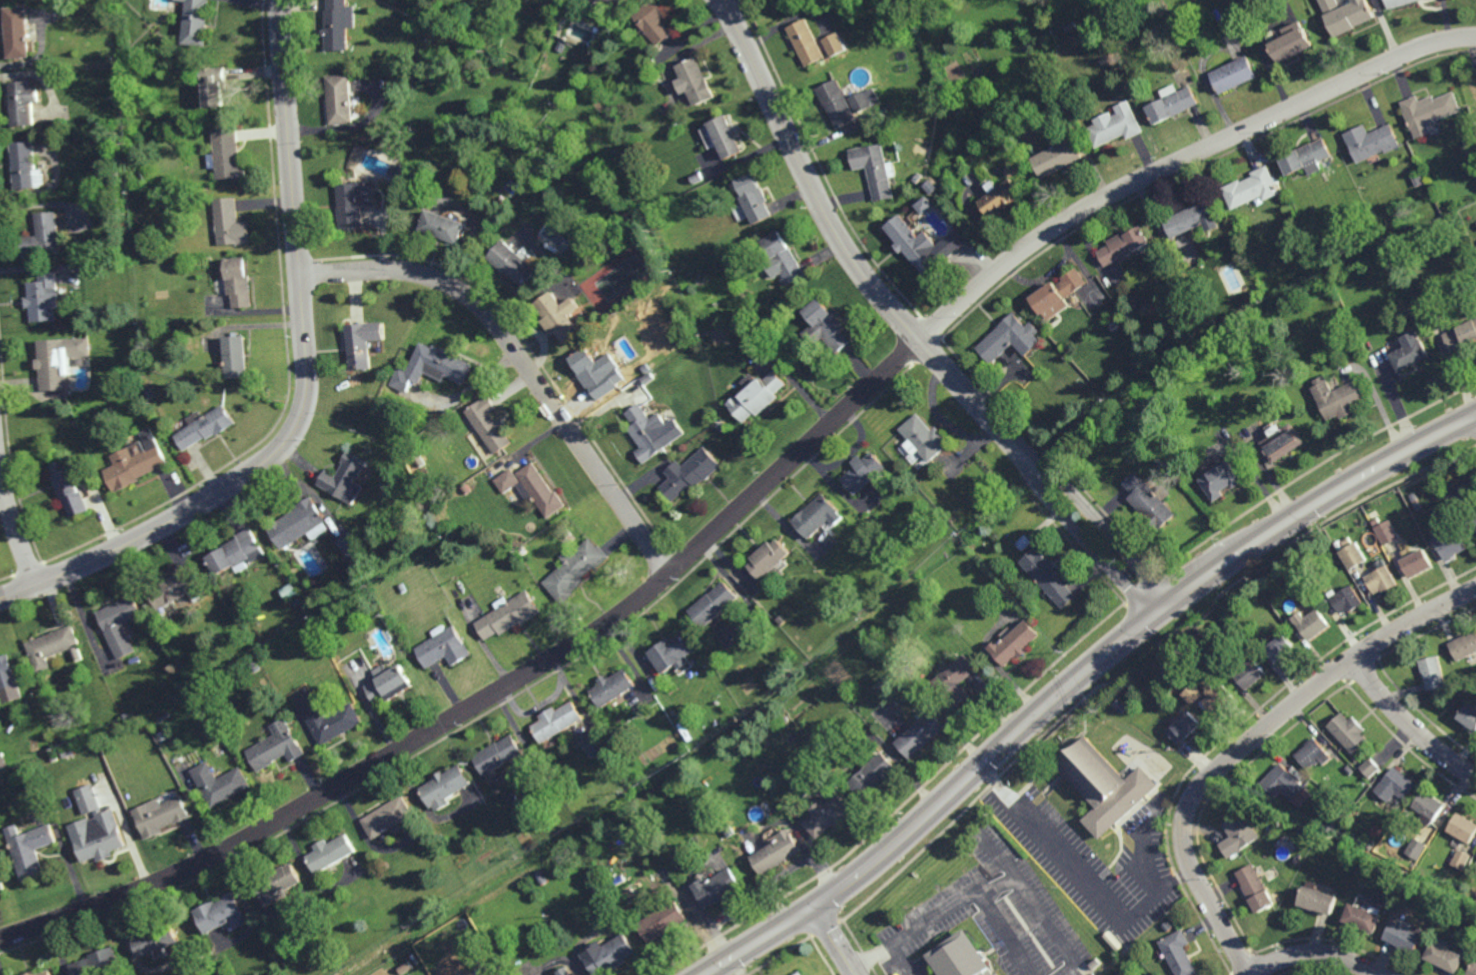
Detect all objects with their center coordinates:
building: (619, 2)
building: (1396, 3)
building: (388, 7)
building: (62, 14)
building: (1344, 14)
building: (652, 22)
building: (197, 23)
building: (338, 23)
building: (1070, 27)
building: (17, 32)
building: (805, 41)
building: (833, 43)
building: (1289, 44)
building: (1231, 75)
building: (694, 80)
building: (214, 86)
building: (339, 98)
building: (860, 101)
building: (22, 102)
building: (836, 103)
building: (1171, 103)
building: (1428, 111)
building: (1114, 128)
building: (724, 137)
building: (1371, 141)
building: (226, 154)
building: (1055, 158)
building: (1304, 158)
building: (23, 165)
building: (873, 170)
building: (1010, 170)
building: (398, 173)
building: (915, 177)
building: (694, 178)
building: (928, 187)
building: (1250, 188)
building: (752, 199)
building: (998, 199)
building: (352, 203)
building: (1190, 218)
building: (229, 223)
building: (440, 226)
building: (1301, 235)
building: (42, 238)
building: (1122, 246)
building: (910, 247)
building: (1321, 251)
building: (782, 258)
building: (510, 263)
building: (236, 283)
building: (1066, 294)
building: (41, 299)
building: (557, 317)
road: (906, 323)
building: (825, 326)
building: (1460, 334)
building: (1008, 337)
building: (361, 343)
building: (1409, 352)
building: (234, 355)
building: (58, 360)
road: (521, 360)
building: (430, 366)
building: (595, 369)
building: (647, 376)
building: (627, 379)
road: (307, 387)
building: (151, 391)
building: (757, 394)
building: (1338, 396)
building: (488, 422)
building: (720, 424)
building: (205, 425)
building: (646, 431)
building: (923, 436)
building: (1282, 440)
building: (138, 447)
building: (134, 465)
building: (1441, 469)
building: (865, 470)
building: (689, 472)
building: (343, 476)
building: (1221, 478)
building: (69, 486)
building: (465, 487)
building: (532, 487)
building: (1414, 495)
road: (748, 499)
building: (1148, 500)
building: (1417, 504)
building: (1473, 511)
building: (815, 514)
building: (1376, 519)
building: (297, 522)
road: (15, 530)
building: (1387, 530)
building: (567, 532)
building: (437, 535)
building: (1347, 539)
building: (1023, 541)
building: (348, 543)
building: (1339, 543)
building: (1452, 544)
building: (522, 550)
building: (236, 551)
building: (381, 552)
building: (1353, 554)
building: (768, 556)
building: (1417, 561)
building: (1303, 563)
building: (574, 569)
building: (1047, 575)
building: (1381, 577)
building: (173, 586)
building: (402, 587)
building: (287, 596)
building: (1346, 598)
building: (713, 603)
building: (1216, 608)
building: (509, 615)
building: (1312, 623)
building: (120, 624)
building: (1013, 642)
building: (1463, 645)
building: (52, 646)
building: (444, 647)
building: (1279, 647)
building: (671, 652)
building: (78, 653)
building: (7, 672)
building: (1432, 672)
building: (1249, 673)
road: (1076, 674)
building: (953, 680)
building: (388, 684)
building: (612, 686)
building: (1193, 692)
building: (1218, 697)
building: (1120, 703)
building: (1468, 716)
building: (126, 717)
building: (557, 720)
building: (330, 721)
road: (1408, 725)
building: (1185, 727)
building: (919, 732)
building: (1347, 732)
building: (812, 737)
road: (1248, 741)
building: (90, 743)
building: (274, 746)
building: (602, 747)
building: (498, 753)
building: (1311, 754)
building: (3, 760)
building: (30, 767)
building: (1368, 767)
building: (1347, 769)
building: (872, 776)
building: (1281, 782)
building: (219, 783)
building: (1394, 784)
building: (1104, 785)
building: (445, 786)
building: (1428, 805)
building: (1406, 814)
building: (161, 815)
building: (387, 816)
building: (828, 816)
building: (1433, 827)
building: (1463, 828)
building: (1237, 835)
building: (102, 838)
building: (1371, 844)
building: (1415, 848)
building: (30, 849)
building: (330, 852)
building: (777, 853)
building: (1296, 859)
building: (1460, 859)
building: (542, 876)
road: (1082, 876)
building: (2, 882)
building: (276, 884)
building: (717, 888)
building: (1253, 889)
road: (957, 900)
building: (1316, 901)
building: (1453, 910)
building: (220, 913)
building: (1361, 918)
building: (663, 922)
building: (1404, 937)
building: (157, 940)
road: (836, 940)
building: (1178, 953)
road: (1316, 954)
building: (609, 956)
building: (1133, 957)
building: (1444, 957)
building: (957, 958)
building: (99, 964)
building: (405, 966)
building: (1472, 969)
building: (564, 972)
building: (42, 973)
building: (800, 974)
building: (994, 974)

